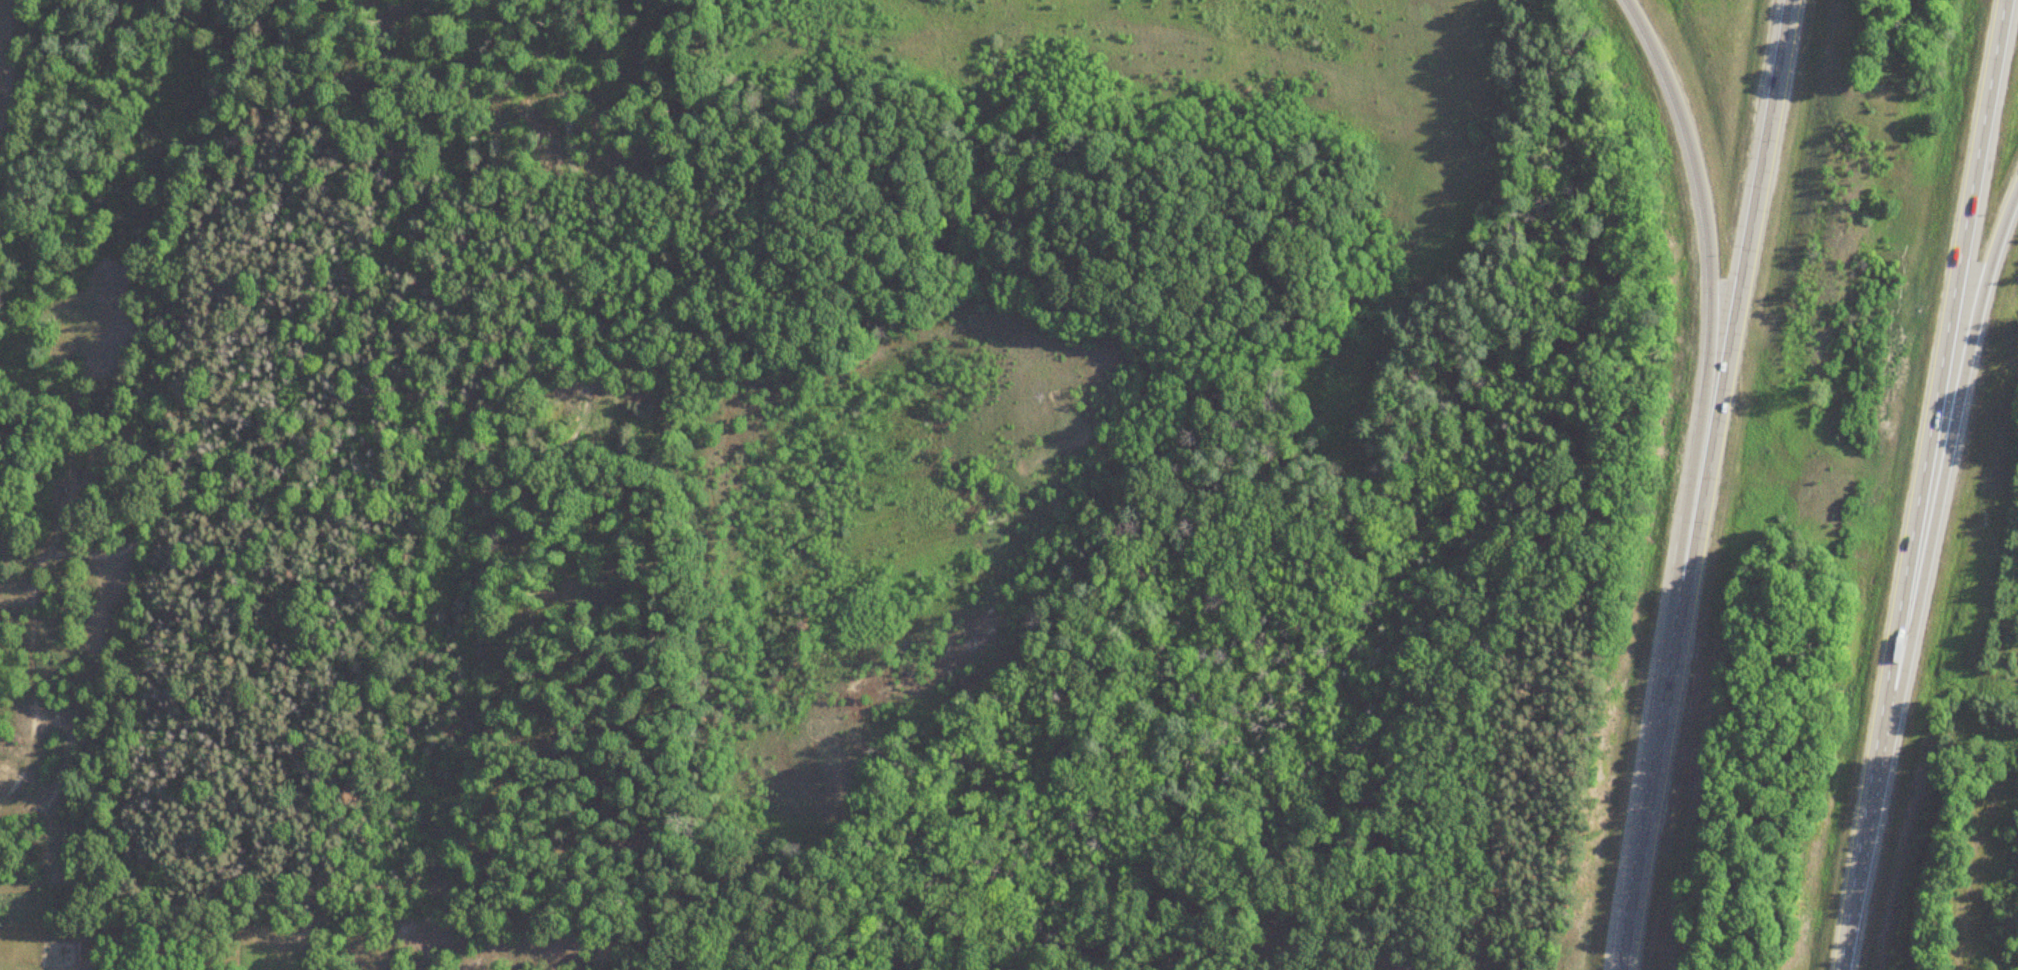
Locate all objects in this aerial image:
road: (1704, 377)
road: (1941, 468)
road: (1704, 484)
road: (1915, 484)

